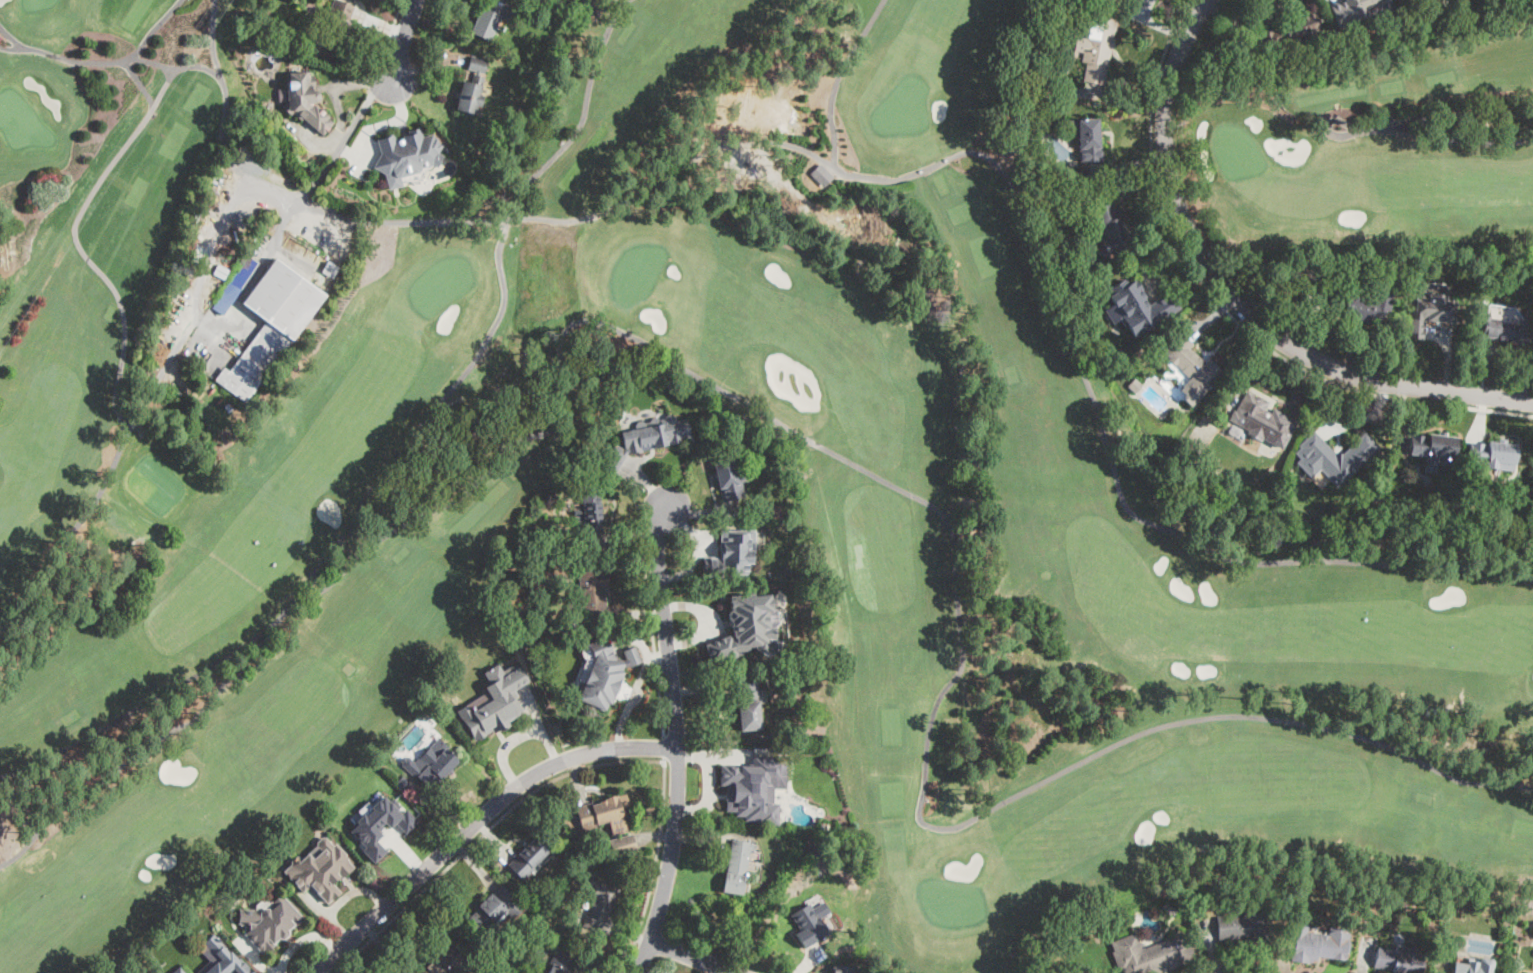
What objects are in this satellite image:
building: (1143, 1)
building: (1357, 10)
building: (491, 17)
building: (336, 25)
road: (394, 27)
building: (1290, 32)
road: (403, 39)
building: (313, 47)
building: (1097, 49)
building: (472, 87)
building: (313, 102)
building: (1088, 139)
building: (406, 155)
park: (1377, 157)
building: (1073, 164)
building: (821, 175)
building: (1109, 228)
building: (330, 270)
building: (188, 271)
building: (236, 285)
road: (246, 289)
road: (1234, 297)
building: (1364, 305)
building: (1140, 306)
road: (1223, 308)
building: (1428, 312)
building: (271, 326)
building: (1509, 327)
building: (1192, 368)
building: (1135, 386)
building: (1262, 420)
building: (647, 439)
building: (1435, 448)
building: (1494, 455)
building: (1334, 457)
road: (108, 475)
park: (259, 477)
building: (730, 479)
building: (589, 510)
building: (559, 538)
building: (731, 554)
building: (592, 562)
building: (594, 594)
building: (749, 621)
building: (573, 625)
road: (653, 634)
building: (602, 672)
building: (495, 701)
building: (750, 706)
road: (677, 741)
road: (665, 745)
building: (431, 764)
building: (761, 782)
building: (602, 815)
road: (477, 821)
building: (378, 822)
road: (483, 833)
building: (621, 845)
building: (583, 853)
building: (529, 858)
road: (656, 866)
building: (737, 866)
building: (320, 868)
building: (538, 900)
building: (602, 905)
building: (496, 909)
building: (1166, 910)
building: (268, 922)
building: (809, 926)
building: (1245, 926)
building: (1100, 934)
building: (1319, 944)
building: (1151, 954)
road: (691, 956)
building: (223, 957)
building: (1398, 960)
building: (445, 962)
building: (562, 963)
building: (500, 966)
building: (1473, 967)
building: (844, 969)
building: (182, 970)
building: (1525, 972)

